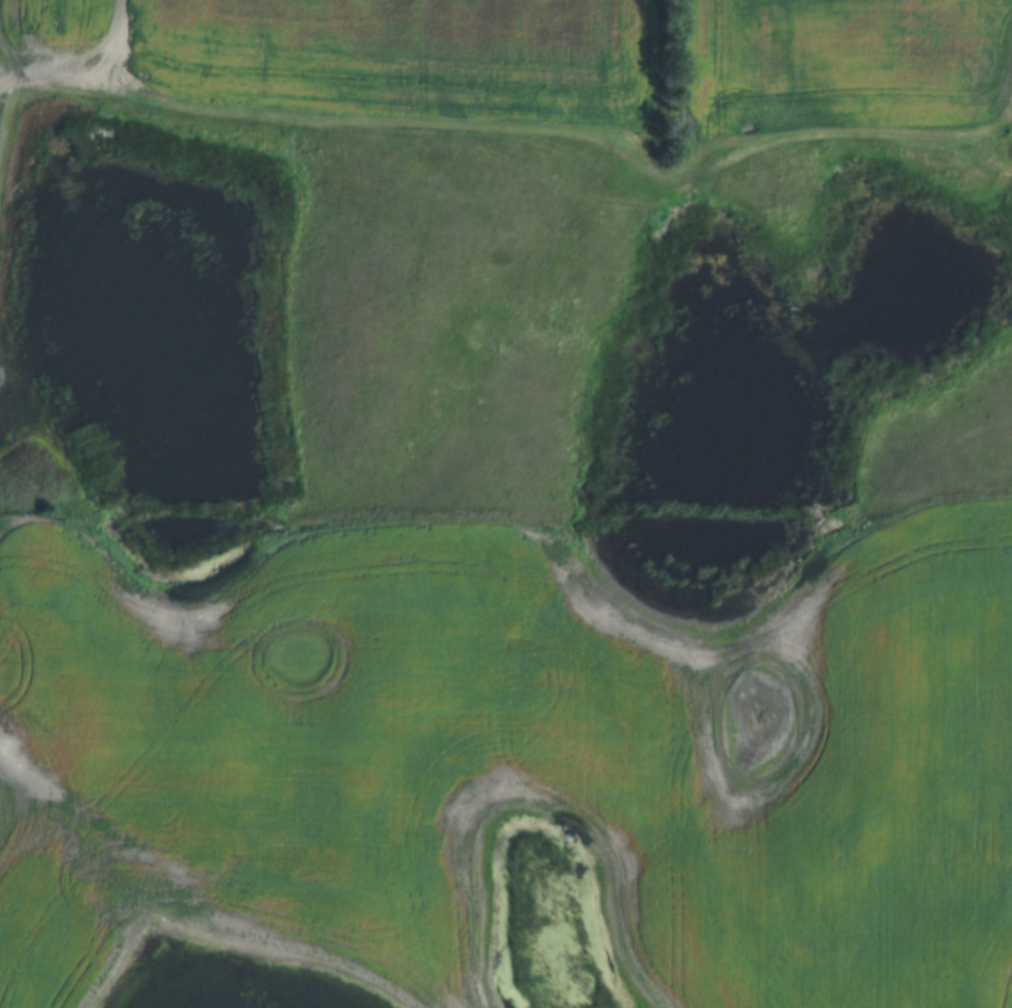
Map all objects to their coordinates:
road: (70, 51)

